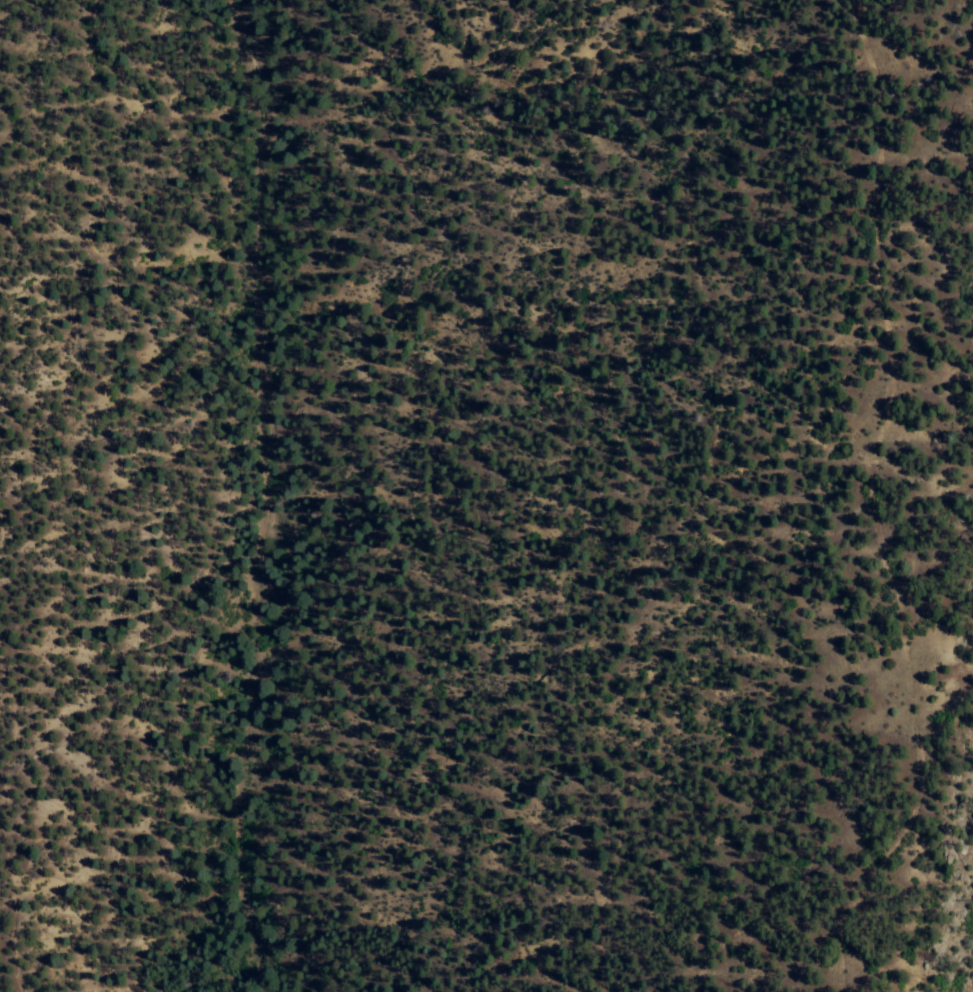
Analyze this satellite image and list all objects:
road: (870, 104)
road: (960, 177)
road: (719, 493)
road: (896, 591)

